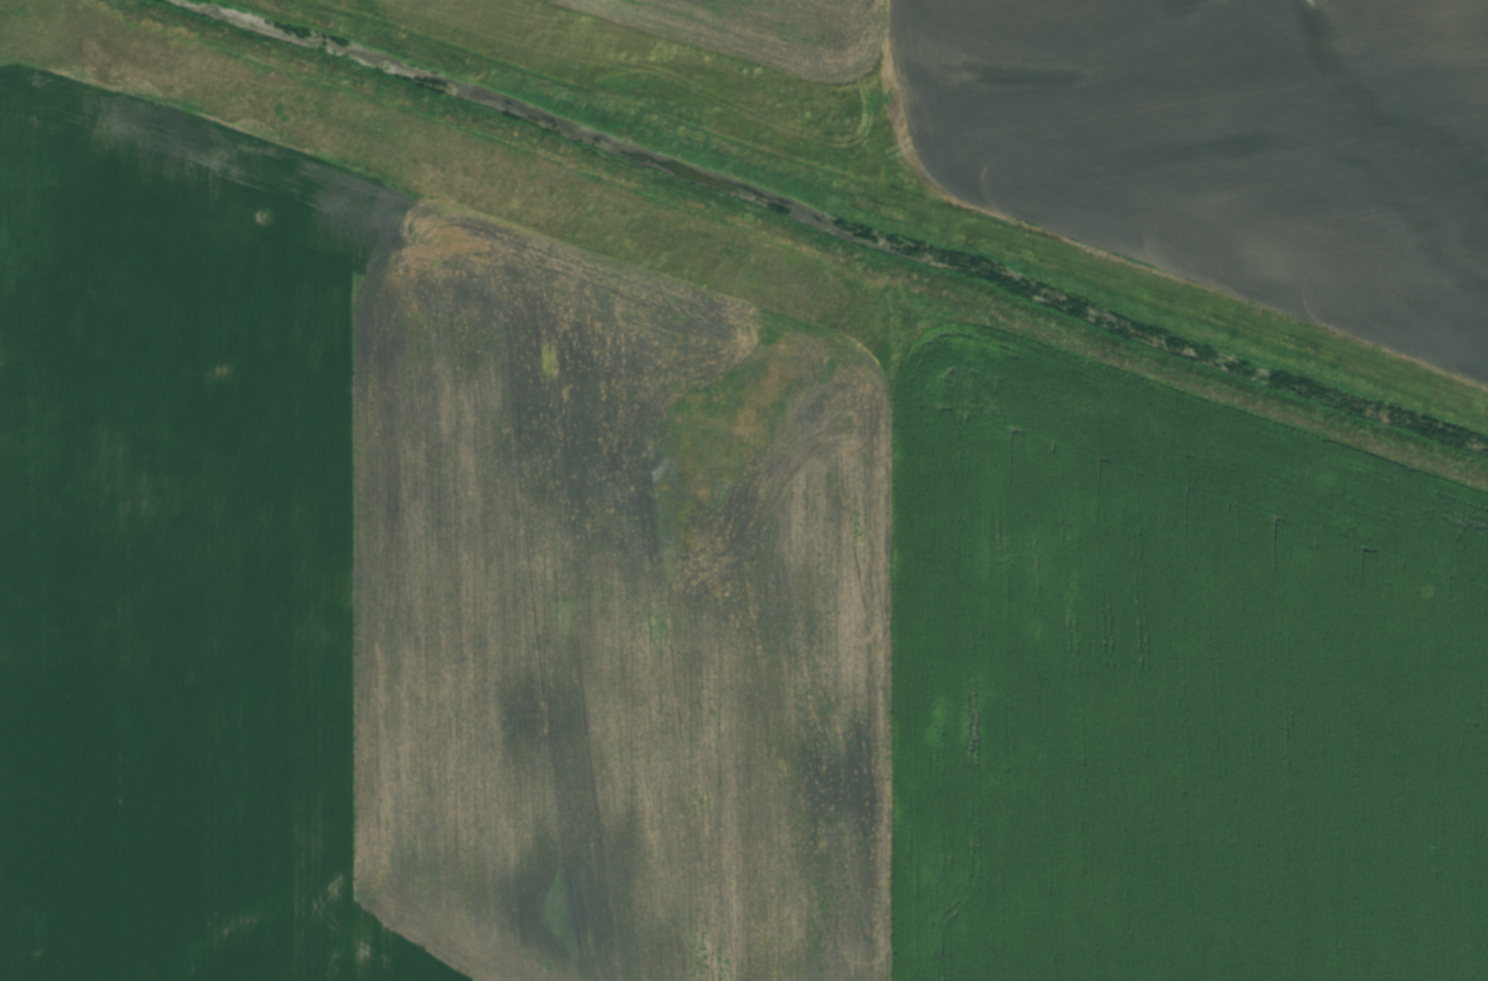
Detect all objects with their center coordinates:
river: (676, 108)
river: (1385, 115)

